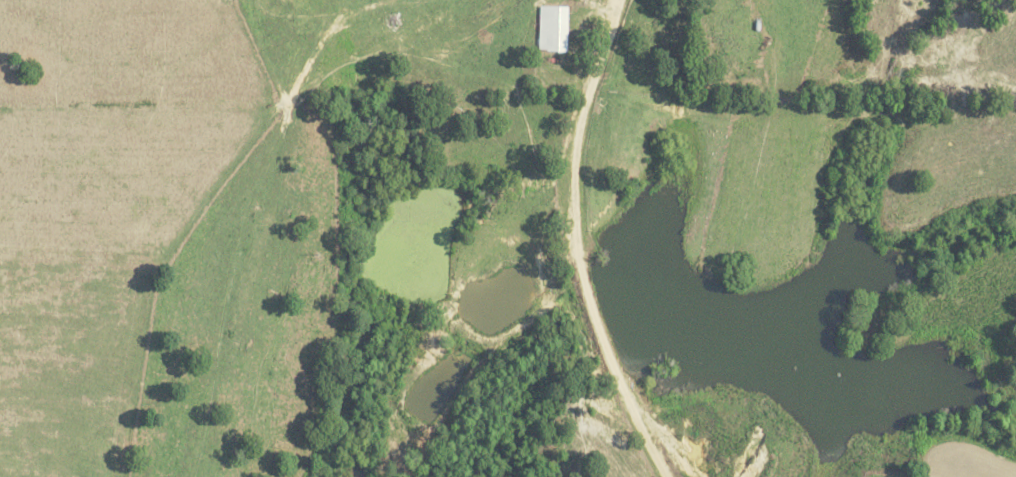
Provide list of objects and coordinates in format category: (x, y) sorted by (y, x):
building: (549, 28)
road: (577, 242)

